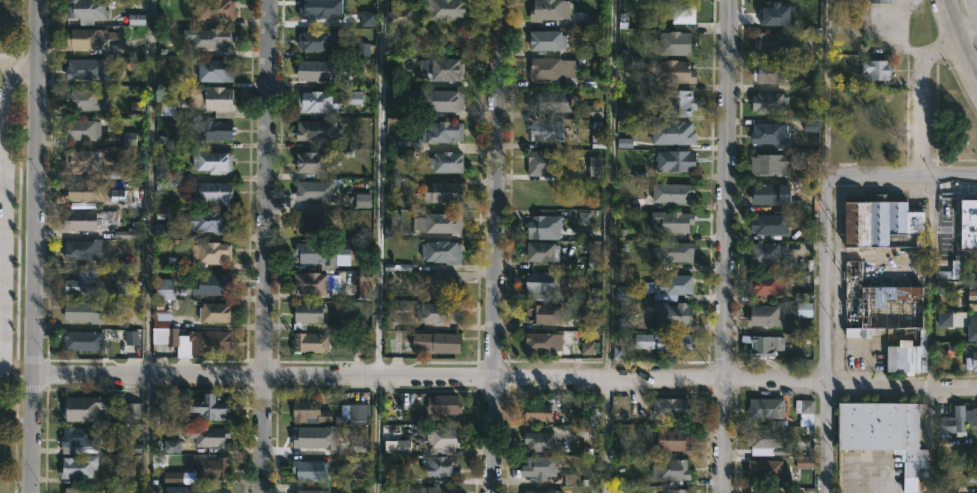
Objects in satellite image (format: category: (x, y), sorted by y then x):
building: (883, 2)
building: (320, 9)
building: (215, 10)
building: (445, 10)
building: (550, 10)
building: (86, 11)
building: (774, 11)
building: (682, 12)
building: (400, 15)
building: (136, 19)
building: (367, 19)
building: (593, 20)
road: (964, 25)
road: (958, 38)
building: (88, 39)
building: (212, 39)
building: (316, 41)
building: (548, 41)
building: (674, 44)
building: (771, 44)
building: (363, 49)
building: (551, 68)
building: (86, 69)
building: (877, 69)
building: (445, 70)
building: (215, 71)
building: (318, 71)
building: (671, 72)
building: (771, 73)
road: (825, 88)
building: (353, 98)
road: (921, 98)
building: (85, 100)
building: (214, 101)
building: (440, 101)
building: (318, 102)
building: (552, 102)
building: (770, 103)
building: (680, 104)
building: (166, 108)
building: (593, 111)
building: (213, 130)
building: (79, 131)
building: (318, 131)
building: (547, 131)
building: (674, 134)
building: (431, 135)
building: (772, 135)
building: (128, 139)
building: (597, 141)
building: (624, 143)
road: (3, 154)
building: (82, 161)
building: (676, 161)
building: (447, 162)
building: (213, 163)
building: (312, 163)
building: (546, 164)
building: (773, 165)
building: (595, 167)
building: (160, 170)
building: (118, 174)
road: (904, 178)
building: (160, 186)
road: (144, 188)
building: (85, 191)
building: (314, 191)
building: (443, 191)
building: (213, 193)
building: (673, 193)
building: (770, 194)
building: (118, 196)
building: (363, 200)
building: (637, 204)
building: (583, 218)
building: (211, 219)
building: (673, 219)
building: (87, 220)
building: (882, 220)
building: (439, 221)
building: (310, 222)
building: (771, 222)
building: (970, 224)
building: (545, 226)
building: (162, 231)
road: (33, 246)
road: (266, 246)
road: (377, 246)
road: (495, 246)
road: (608, 246)
road: (726, 246)
building: (83, 248)
building: (443, 250)
building: (542, 250)
building: (676, 250)
building: (211, 251)
building: (768, 251)
building: (316, 252)
building: (594, 257)
building: (955, 266)
building: (81, 281)
building: (316, 282)
road: (930, 283)
building: (212, 284)
building: (542, 284)
building: (366, 285)
building: (767, 285)
building: (443, 286)
building: (670, 286)
building: (123, 287)
building: (165, 288)
building: (973, 292)
building: (621, 293)
building: (800, 296)
building: (882, 304)
building: (803, 309)
building: (87, 310)
building: (215, 311)
building: (446, 312)
building: (546, 312)
building: (675, 312)
building: (308, 313)
building: (767, 314)
building: (161, 319)
building: (944, 319)
building: (975, 328)
road: (828, 334)
building: (130, 337)
building: (82, 341)
building: (198, 341)
building: (544, 341)
building: (666, 341)
building: (310, 342)
building: (443, 342)
building: (767, 344)
building: (619, 345)
building: (586, 348)
building: (906, 356)
building: (971, 361)
road: (504, 378)
building: (158, 402)
building: (444, 403)
building: (83, 407)
building: (209, 407)
building: (673, 407)
building: (766, 408)
building: (132, 410)
building: (310, 411)
building: (807, 411)
building: (360, 412)
building: (539, 413)
building: (956, 420)
building: (882, 426)
road: (146, 434)
building: (80, 435)
building: (208, 435)
building: (315, 437)
building: (675, 439)
building: (768, 439)
building: (443, 440)
building: (540, 441)
building: (359, 445)
building: (171, 446)
building: (398, 446)
building: (804, 462)
building: (357, 465)
building: (78, 466)
building: (442, 466)
building: (540, 466)
building: (211, 467)
building: (309, 469)
building: (671, 469)
building: (768, 469)
building: (972, 475)
building: (179, 477)
building: (194, 489)
building: (439, 489)
building: (77, 490)
building: (544, 490)
building: (678, 490)
building: (761, 490)
building: (973, 490)
building: (312, 491)

